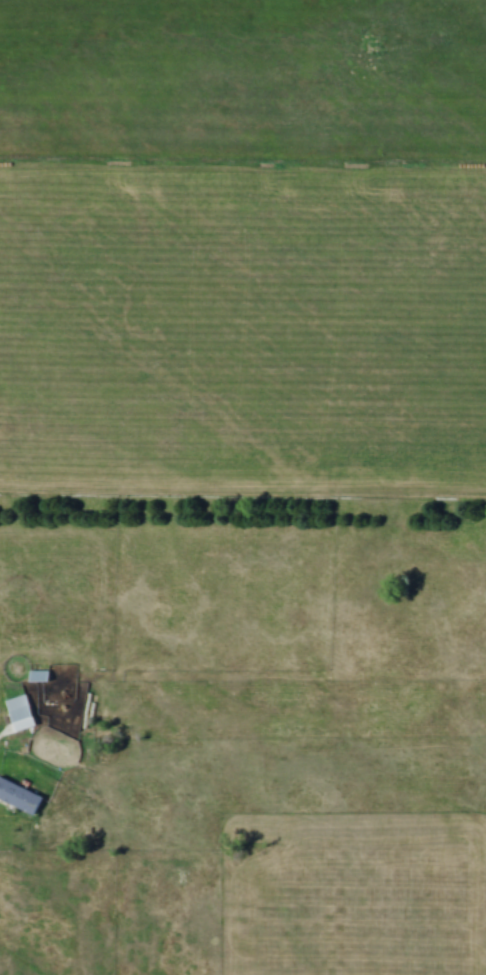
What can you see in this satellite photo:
building: (40, 676)
building: (22, 714)
building: (20, 792)

